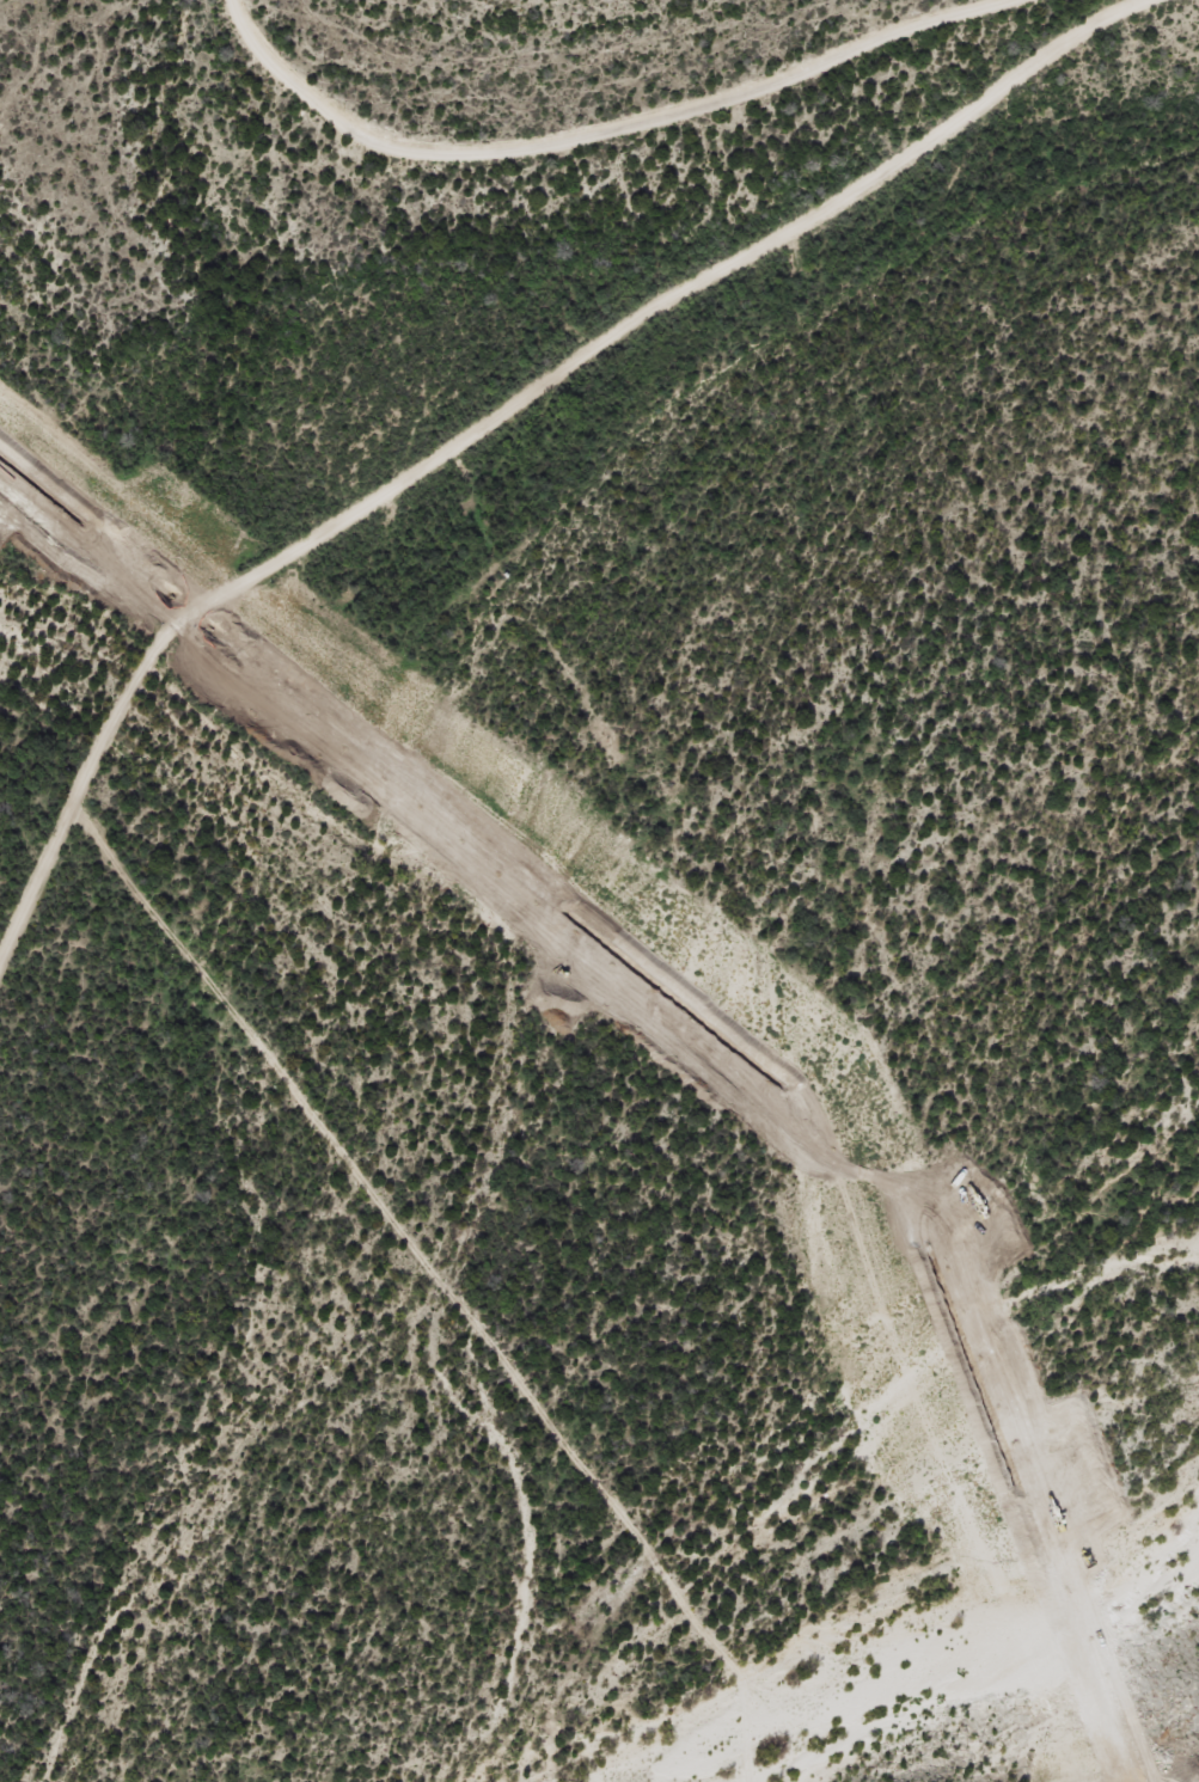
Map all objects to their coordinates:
road: (586, 136)
road: (497, 421)
river: (1062, 1695)

